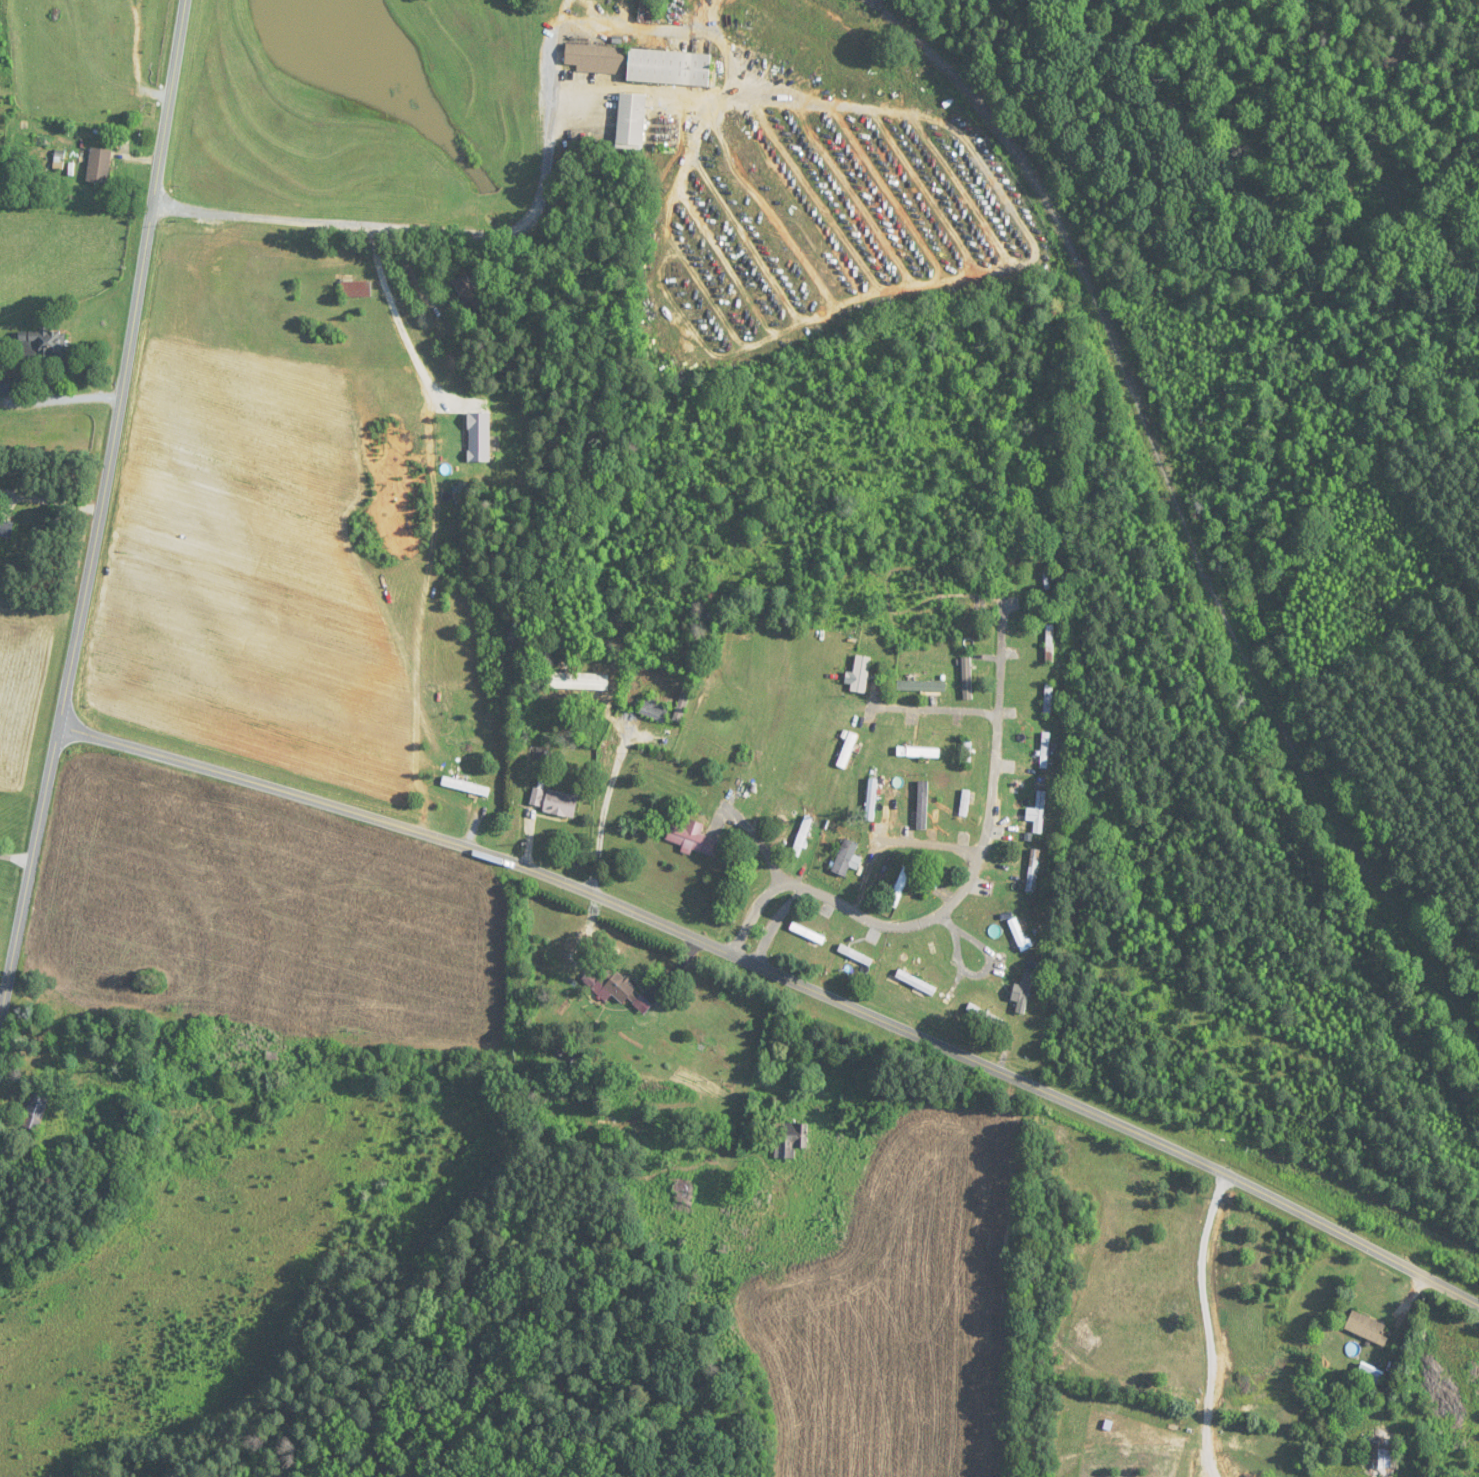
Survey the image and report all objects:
building: (648, 11)
road: (139, 58)
building: (642, 65)
building: (632, 121)
building: (99, 167)
road: (437, 228)
road: (409, 266)
building: (469, 294)
road: (397, 314)
building: (42, 344)
road: (69, 396)
road: (29, 399)
building: (478, 437)
road: (102, 513)
building: (6, 529)
building: (1050, 644)
building: (861, 675)
building: (578, 682)
building: (921, 686)
building: (1048, 700)
building: (682, 707)
building: (655, 710)
building: (1045, 750)
building: (967, 754)
building: (737, 783)
building: (466, 786)
building: (872, 797)
building: (555, 802)
building: (965, 803)
building: (921, 808)
road: (604, 812)
building: (1040, 816)
building: (803, 836)
building: (694, 839)
road: (984, 839)
building: (1033, 871)
road: (798, 885)
building: (900, 887)
building: (808, 933)
building: (1019, 935)
building: (856, 956)
road: (786, 978)
building: (916, 983)
building: (616, 988)
building: (1025, 992)
building: (987, 1016)
road: (0, 1018)
building: (708, 1041)
building: (35, 1112)
building: (790, 1139)
road: (1209, 1326)
building: (1367, 1327)
building: (1369, 1374)
building: (1381, 1457)

